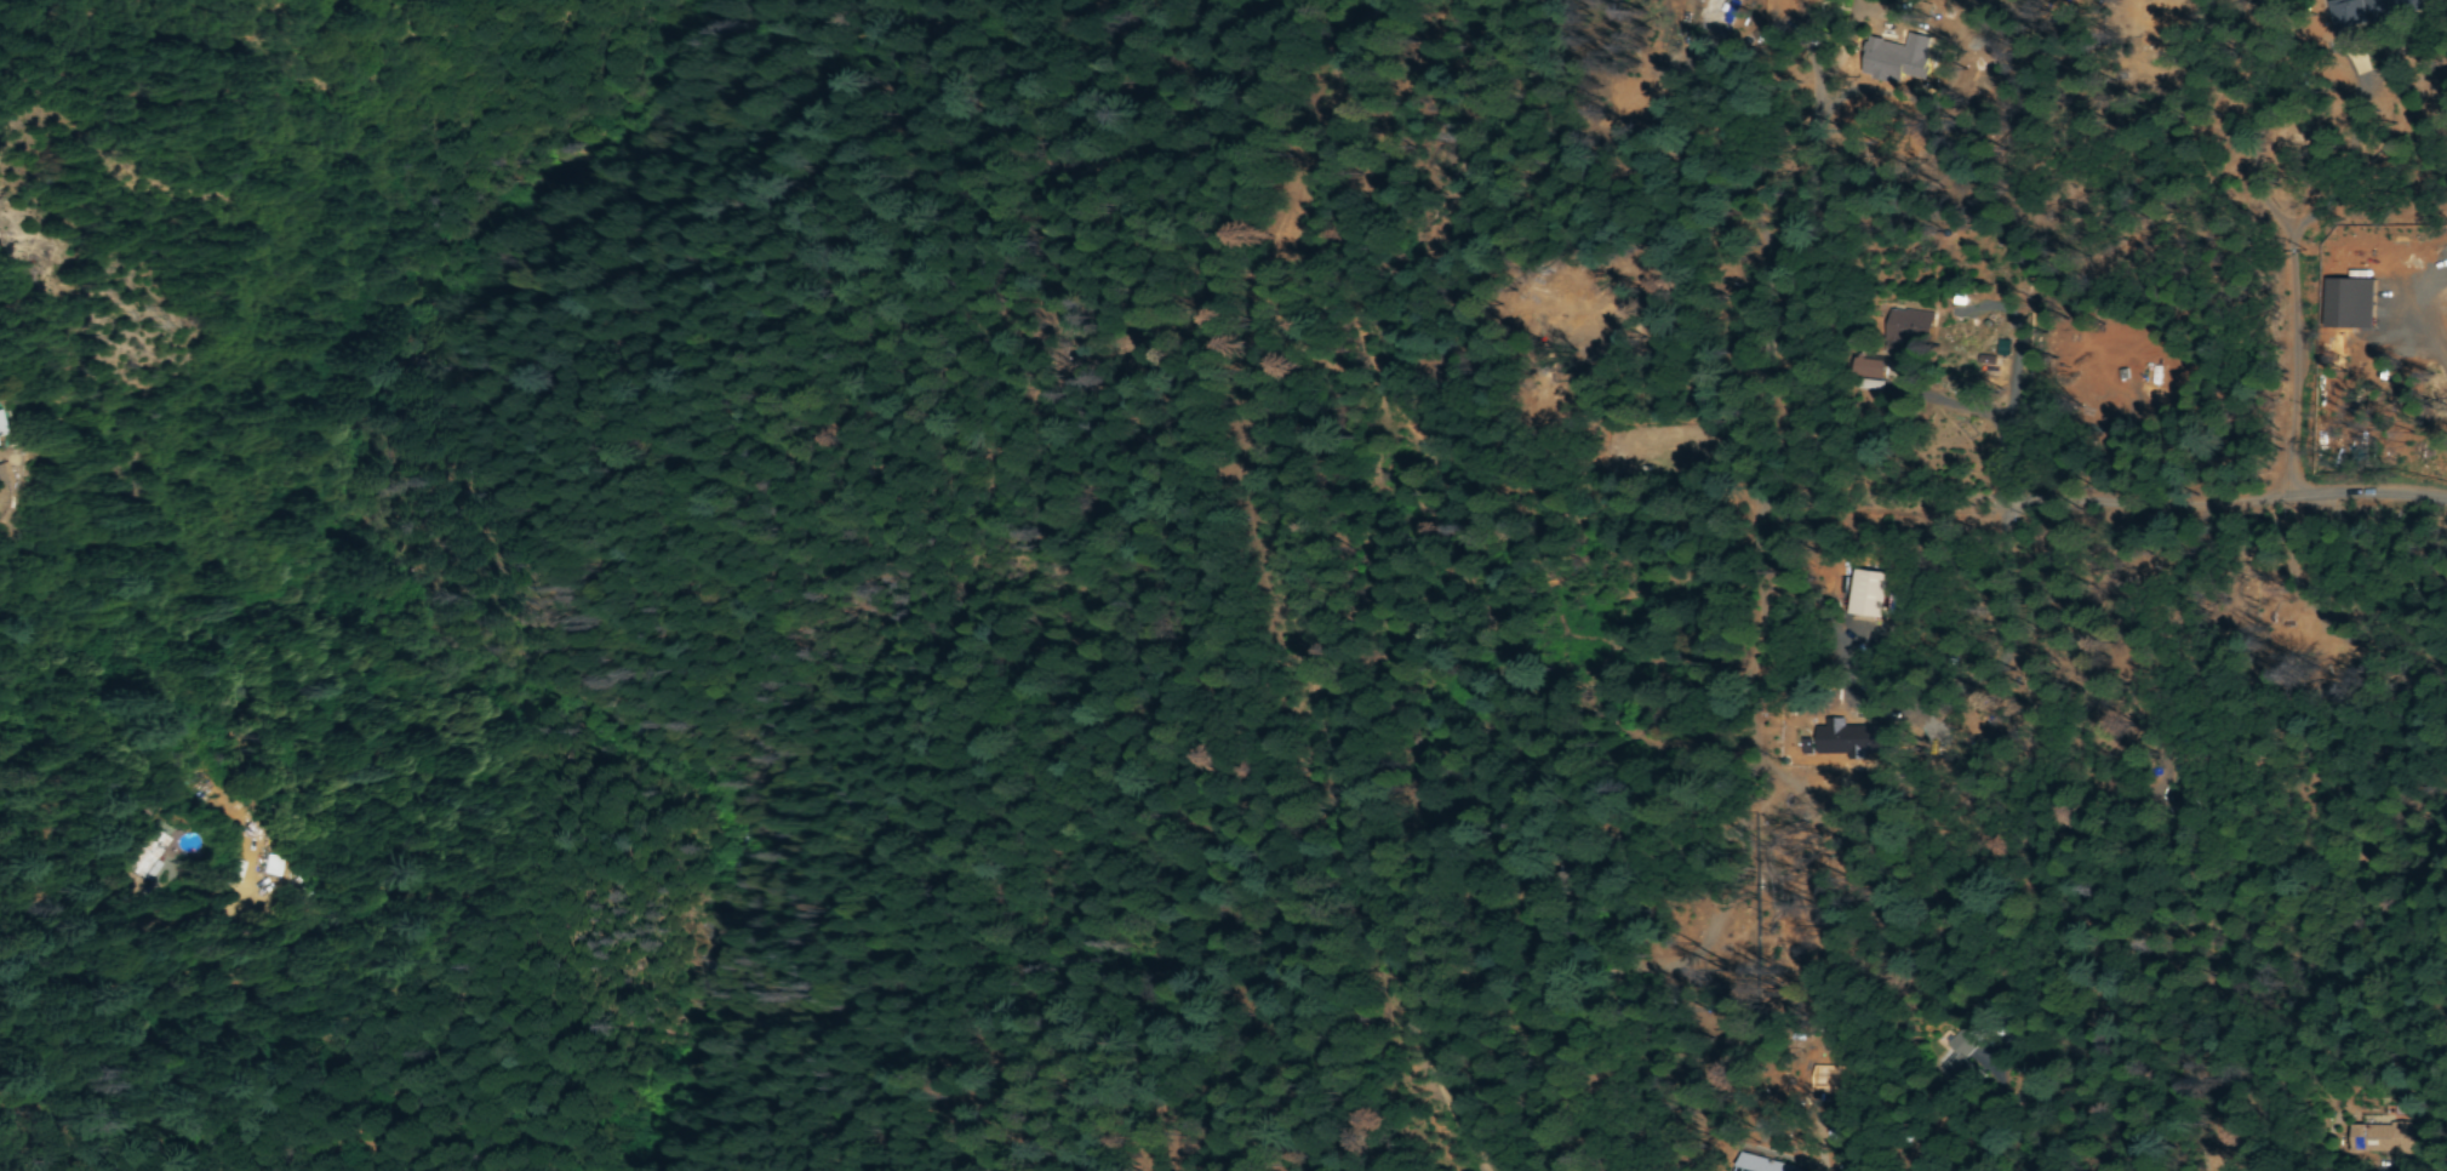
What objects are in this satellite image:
building: (2362, 11)
road: (2205, 188)
road: (587, 230)
building: (1868, 370)
building: (0, 435)
road: (2116, 470)
road: (1785, 508)
road: (1273, 601)
road: (613, 760)
building: (273, 868)
road: (120, 933)
road: (156, 1033)
building: (1760, 1166)

